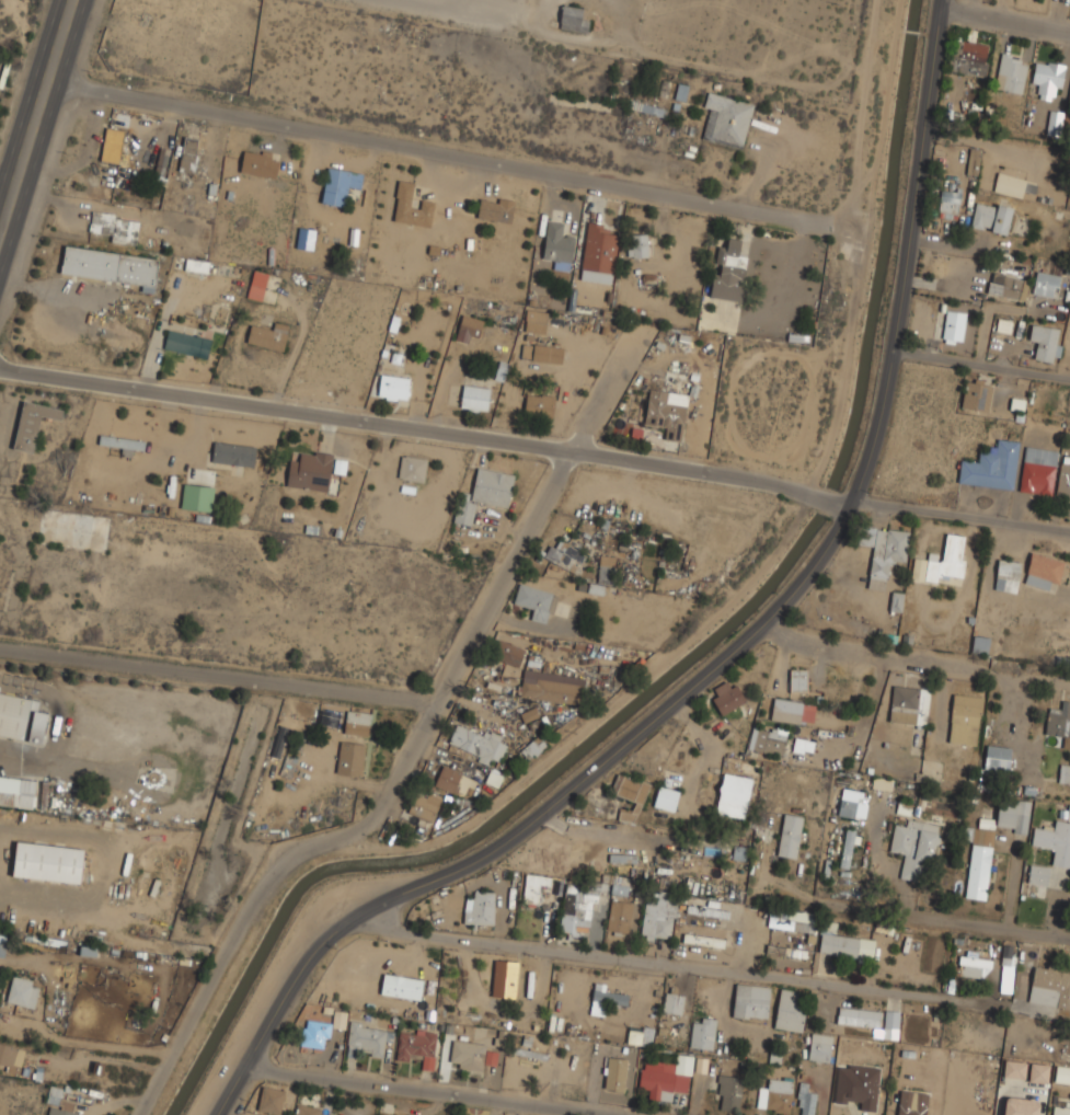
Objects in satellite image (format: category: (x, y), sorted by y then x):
parking lot: (484, 8)
road: (1004, 14)
building: (574, 18)
building: (974, 50)
building: (1012, 72)
building: (1048, 77)
building: (1069, 101)
road: (32, 112)
road: (882, 118)
building: (727, 119)
building: (1056, 120)
building: (113, 143)
road: (435, 148)
building: (188, 153)
building: (975, 160)
building: (260, 162)
building: (161, 164)
road: (5, 181)
building: (340, 184)
building: (1013, 184)
building: (950, 203)
building: (412, 205)
building: (495, 208)
building: (991, 216)
building: (115, 226)
building: (559, 244)
building: (642, 244)
building: (599, 248)
building: (111, 265)
building: (197, 265)
building: (730, 268)
building: (1046, 283)
building: (257, 284)
building: (1009, 285)
building: (537, 320)
building: (954, 325)
building: (470, 326)
building: (268, 335)
building: (1046, 341)
building: (187, 343)
building: (542, 352)
road: (980, 367)
road: (610, 381)
building: (394, 387)
building: (977, 394)
building: (475, 398)
building: (539, 405)
building: (668, 411)
building: (32, 423)
building: (123, 441)
road: (536, 442)
building: (233, 452)
building: (992, 465)
building: (338, 467)
building: (413, 468)
building: (1039, 469)
building: (310, 470)
building: (1065, 478)
building: (493, 485)
building: (197, 496)
building: (464, 510)
building: (73, 529)
building: (885, 551)
building: (564, 556)
building: (607, 560)
building: (942, 560)
building: (1045, 570)
building: (1008, 575)
building: (603, 577)
building: (537, 600)
building: (896, 601)
building: (981, 643)
building: (507, 652)
road: (732, 652)
road: (917, 658)
road: (455, 667)
road: (218, 674)
building: (798, 679)
building: (551, 686)
building: (728, 697)
building: (910, 703)
building: (793, 711)
building: (21, 716)
building: (966, 717)
building: (1060, 722)
building: (358, 723)
building: (770, 739)
building: (278, 742)
building: (478, 742)
building: (533, 746)
building: (352, 757)
building: (998, 757)
road: (779, 758)
building: (1065, 772)
building: (494, 778)
building: (455, 780)
building: (882, 783)
building: (24, 792)
building: (630, 793)
building: (734, 794)
building: (667, 797)
building: (853, 803)
building: (425, 805)
building: (1013, 814)
building: (792, 835)
road: (54, 836)
building: (1054, 841)
building: (849, 848)
building: (916, 848)
building: (979, 859)
building: (48, 861)
building: (727, 870)
building: (1038, 874)
building: (692, 883)
building: (534, 885)
building: (590, 900)
building: (480, 908)
building: (702, 908)
building: (659, 913)
building: (622, 917)
road: (942, 918)
building: (791, 919)
building: (703, 939)
building: (847, 944)
building: (2, 947)
building: (789, 955)
building: (1008, 956)
road: (658, 964)
building: (971, 965)
road: (216, 975)
building: (505, 976)
building: (1050, 986)
building: (401, 987)
building: (23, 991)
building: (606, 1001)
building: (674, 1001)
building: (751, 1001)
building: (791, 1009)
building: (859, 1015)
building: (338, 1020)
building: (891, 1024)
building: (703, 1032)
building: (317, 1033)
building: (368, 1038)
building: (418, 1046)
building: (821, 1046)
building: (472, 1055)
building: (11, 1056)
road: (115, 1060)
building: (1014, 1069)
building: (1038, 1073)
building: (1062, 1073)
building: (614, 1074)
building: (667, 1077)
building: (856, 1085)
building: (729, 1091)
road: (432, 1092)
building: (775, 1094)
building: (272, 1099)
building: (805, 1101)
building: (911, 1108)
building: (1061, 1108)
building: (61, 1110)
building: (307, 1110)
building: (1025, 1111)

